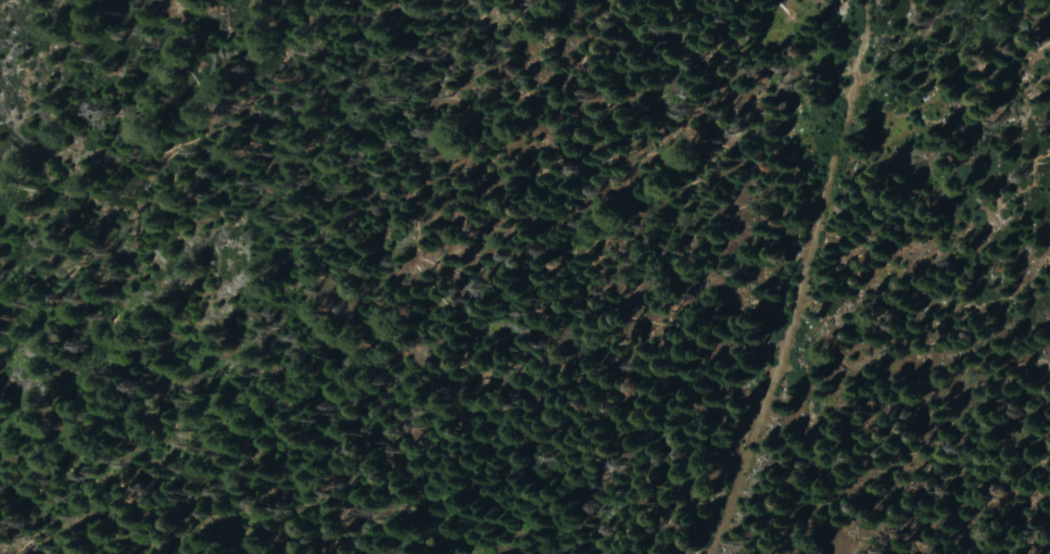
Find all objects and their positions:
road: (810, 290)

